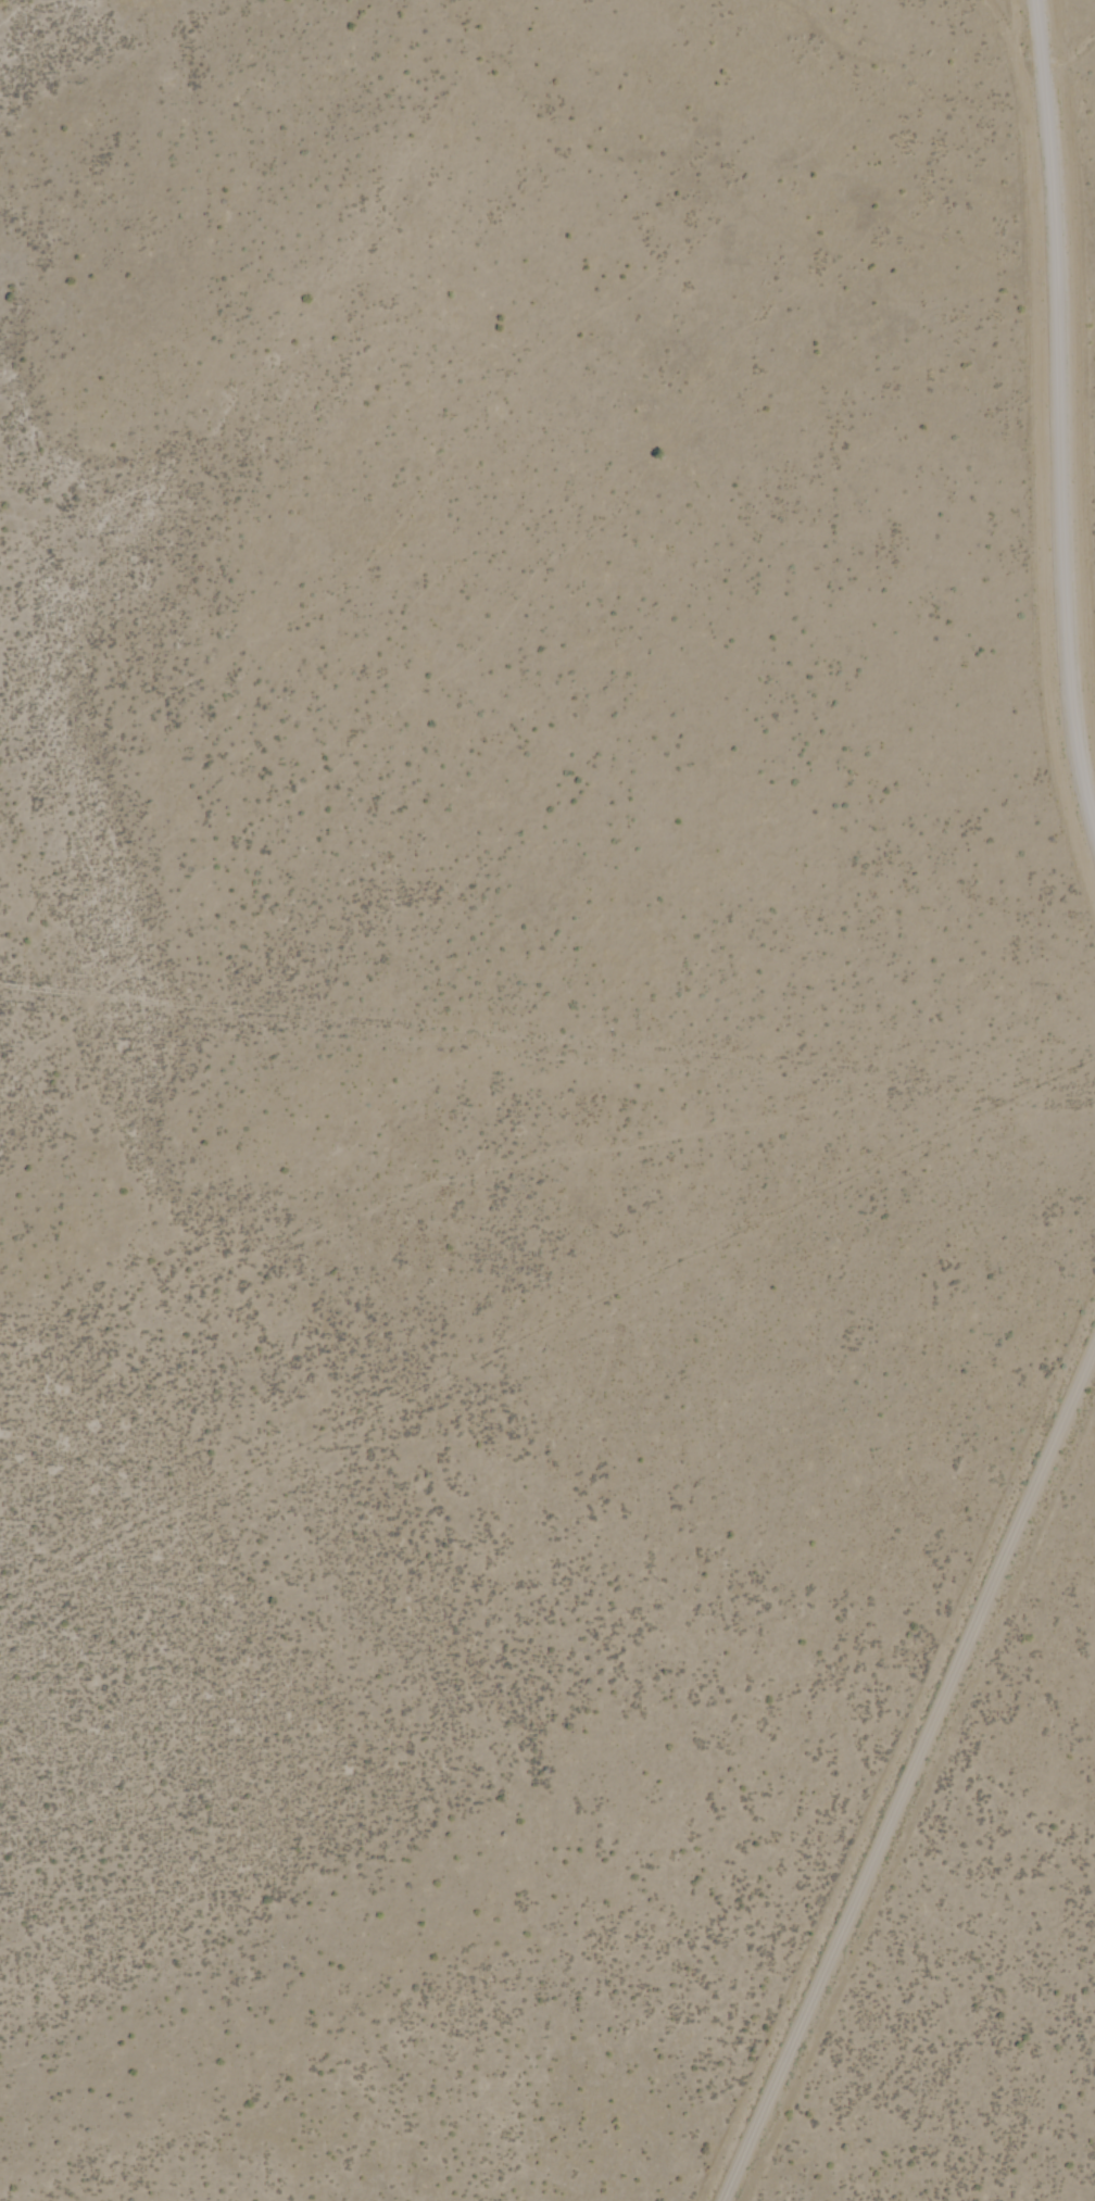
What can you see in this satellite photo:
road: (1063, 413)
road: (910, 1766)

